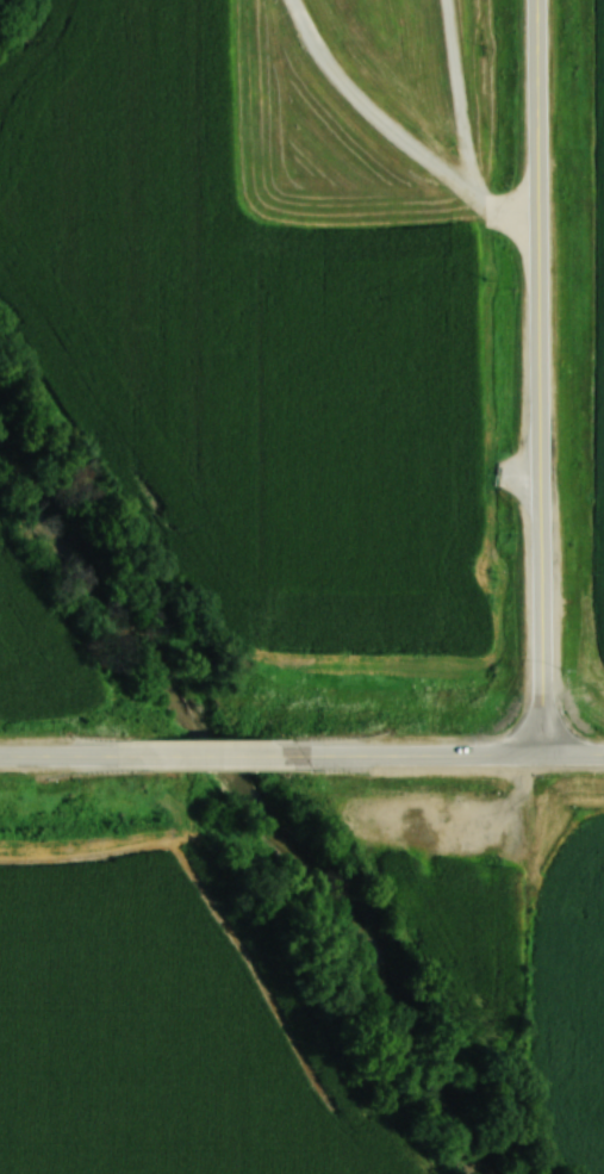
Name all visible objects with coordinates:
road: (434, 168)
road: (498, 212)
road: (540, 378)
road: (204, 753)
road: (61, 754)
road: (444, 754)
river: (266, 801)

